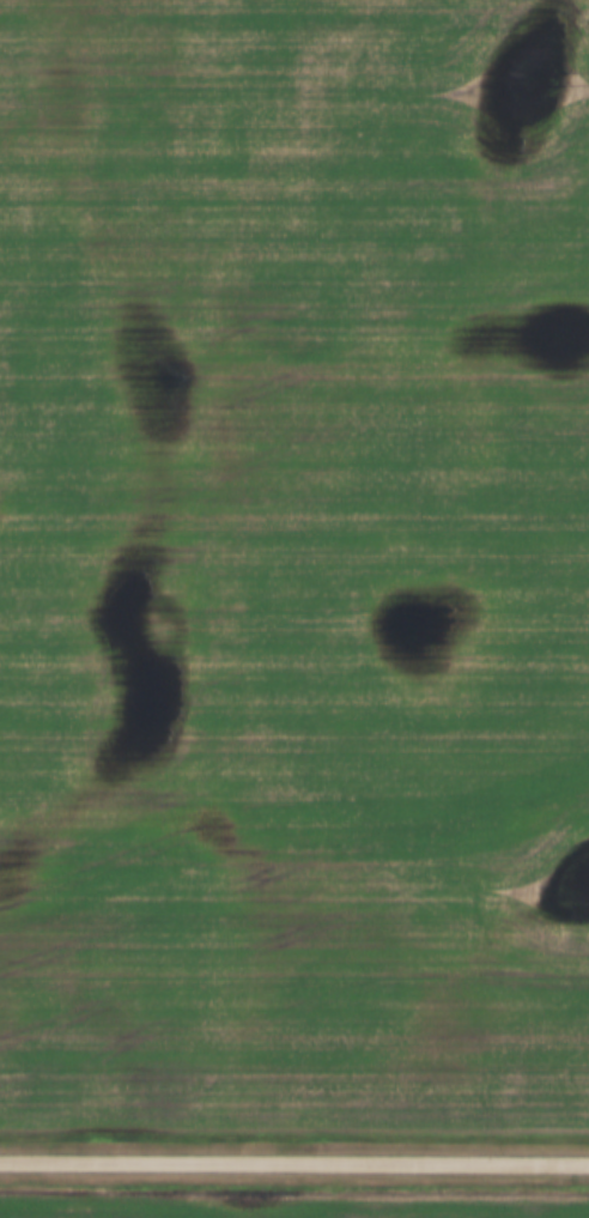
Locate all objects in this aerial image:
road: (294, 1155)

